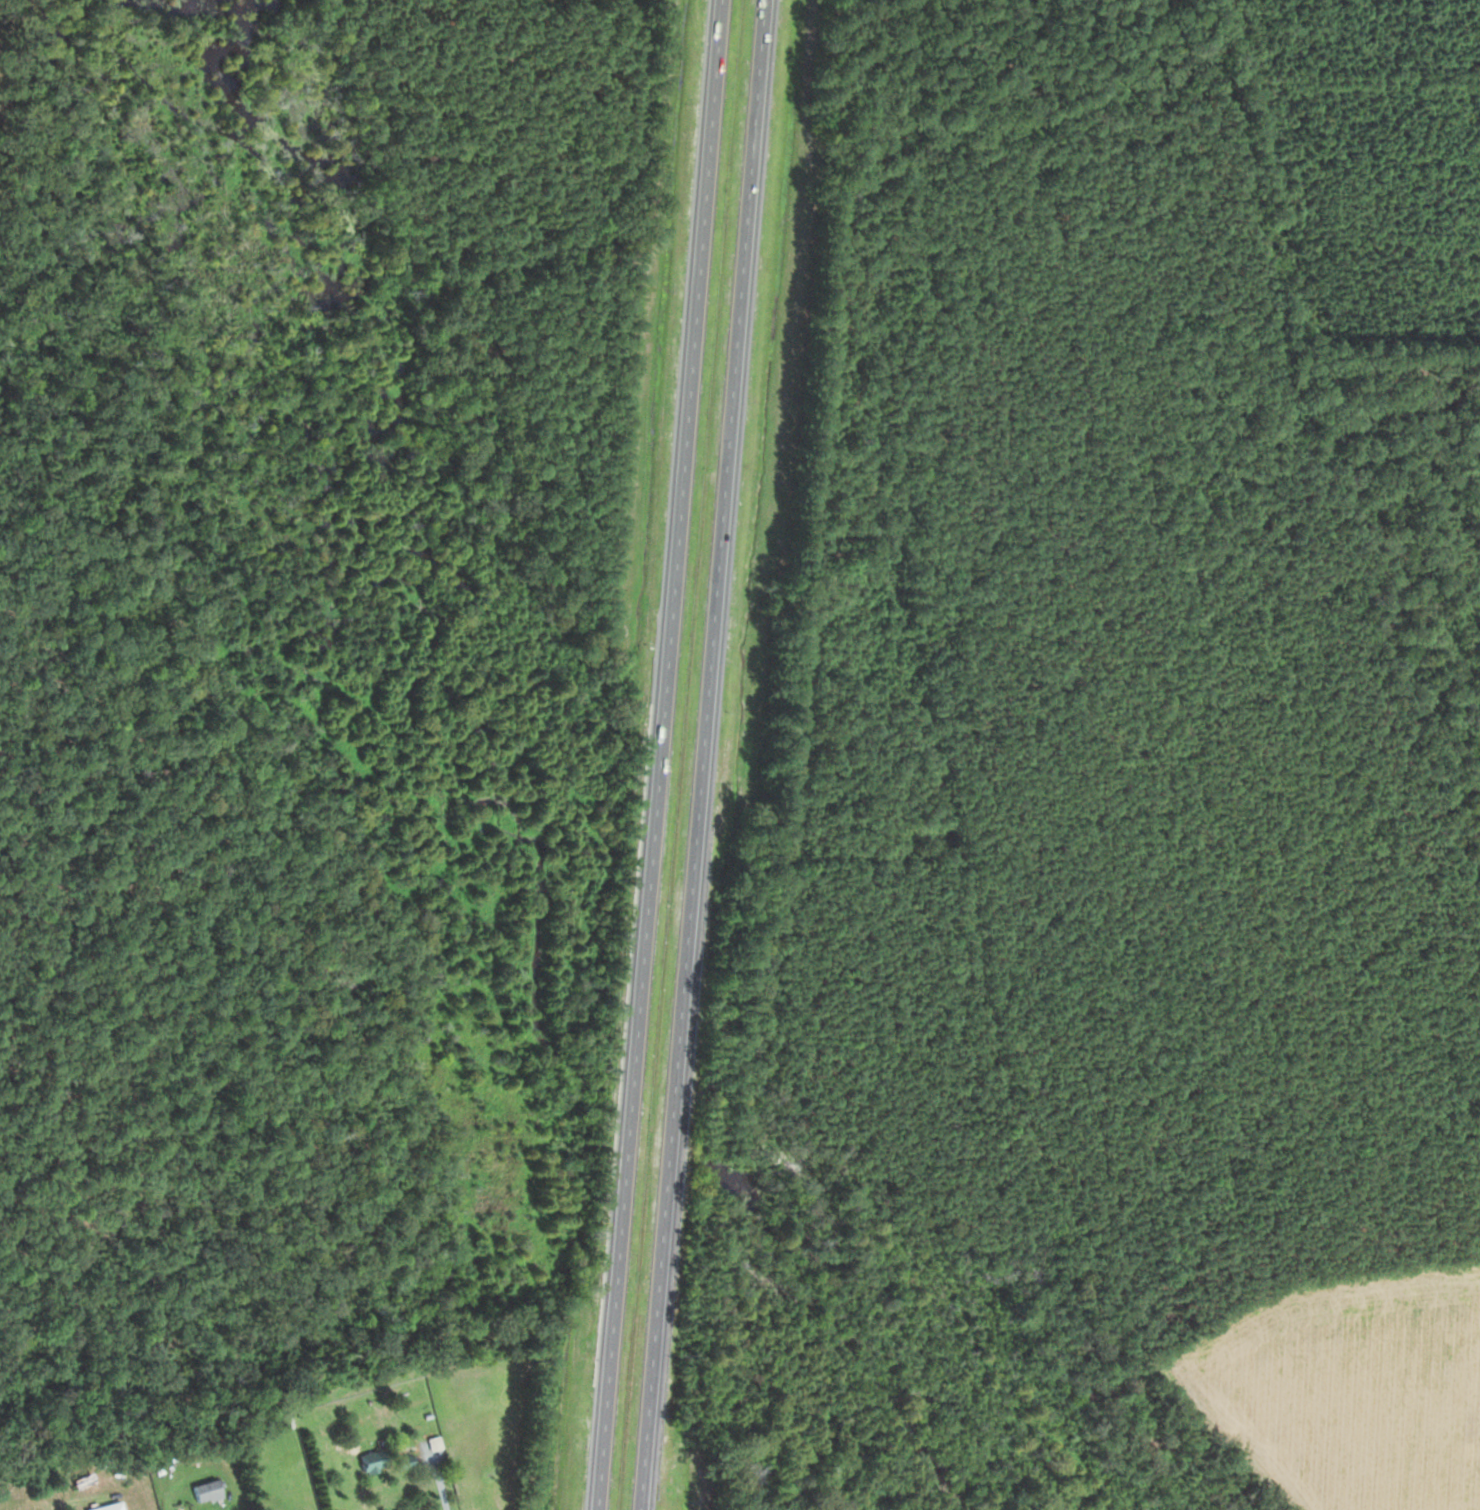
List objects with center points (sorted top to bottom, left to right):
road: (703, 754)
road: (661, 755)
building: (371, 1461)
road: (442, 1484)
building: (203, 1491)

